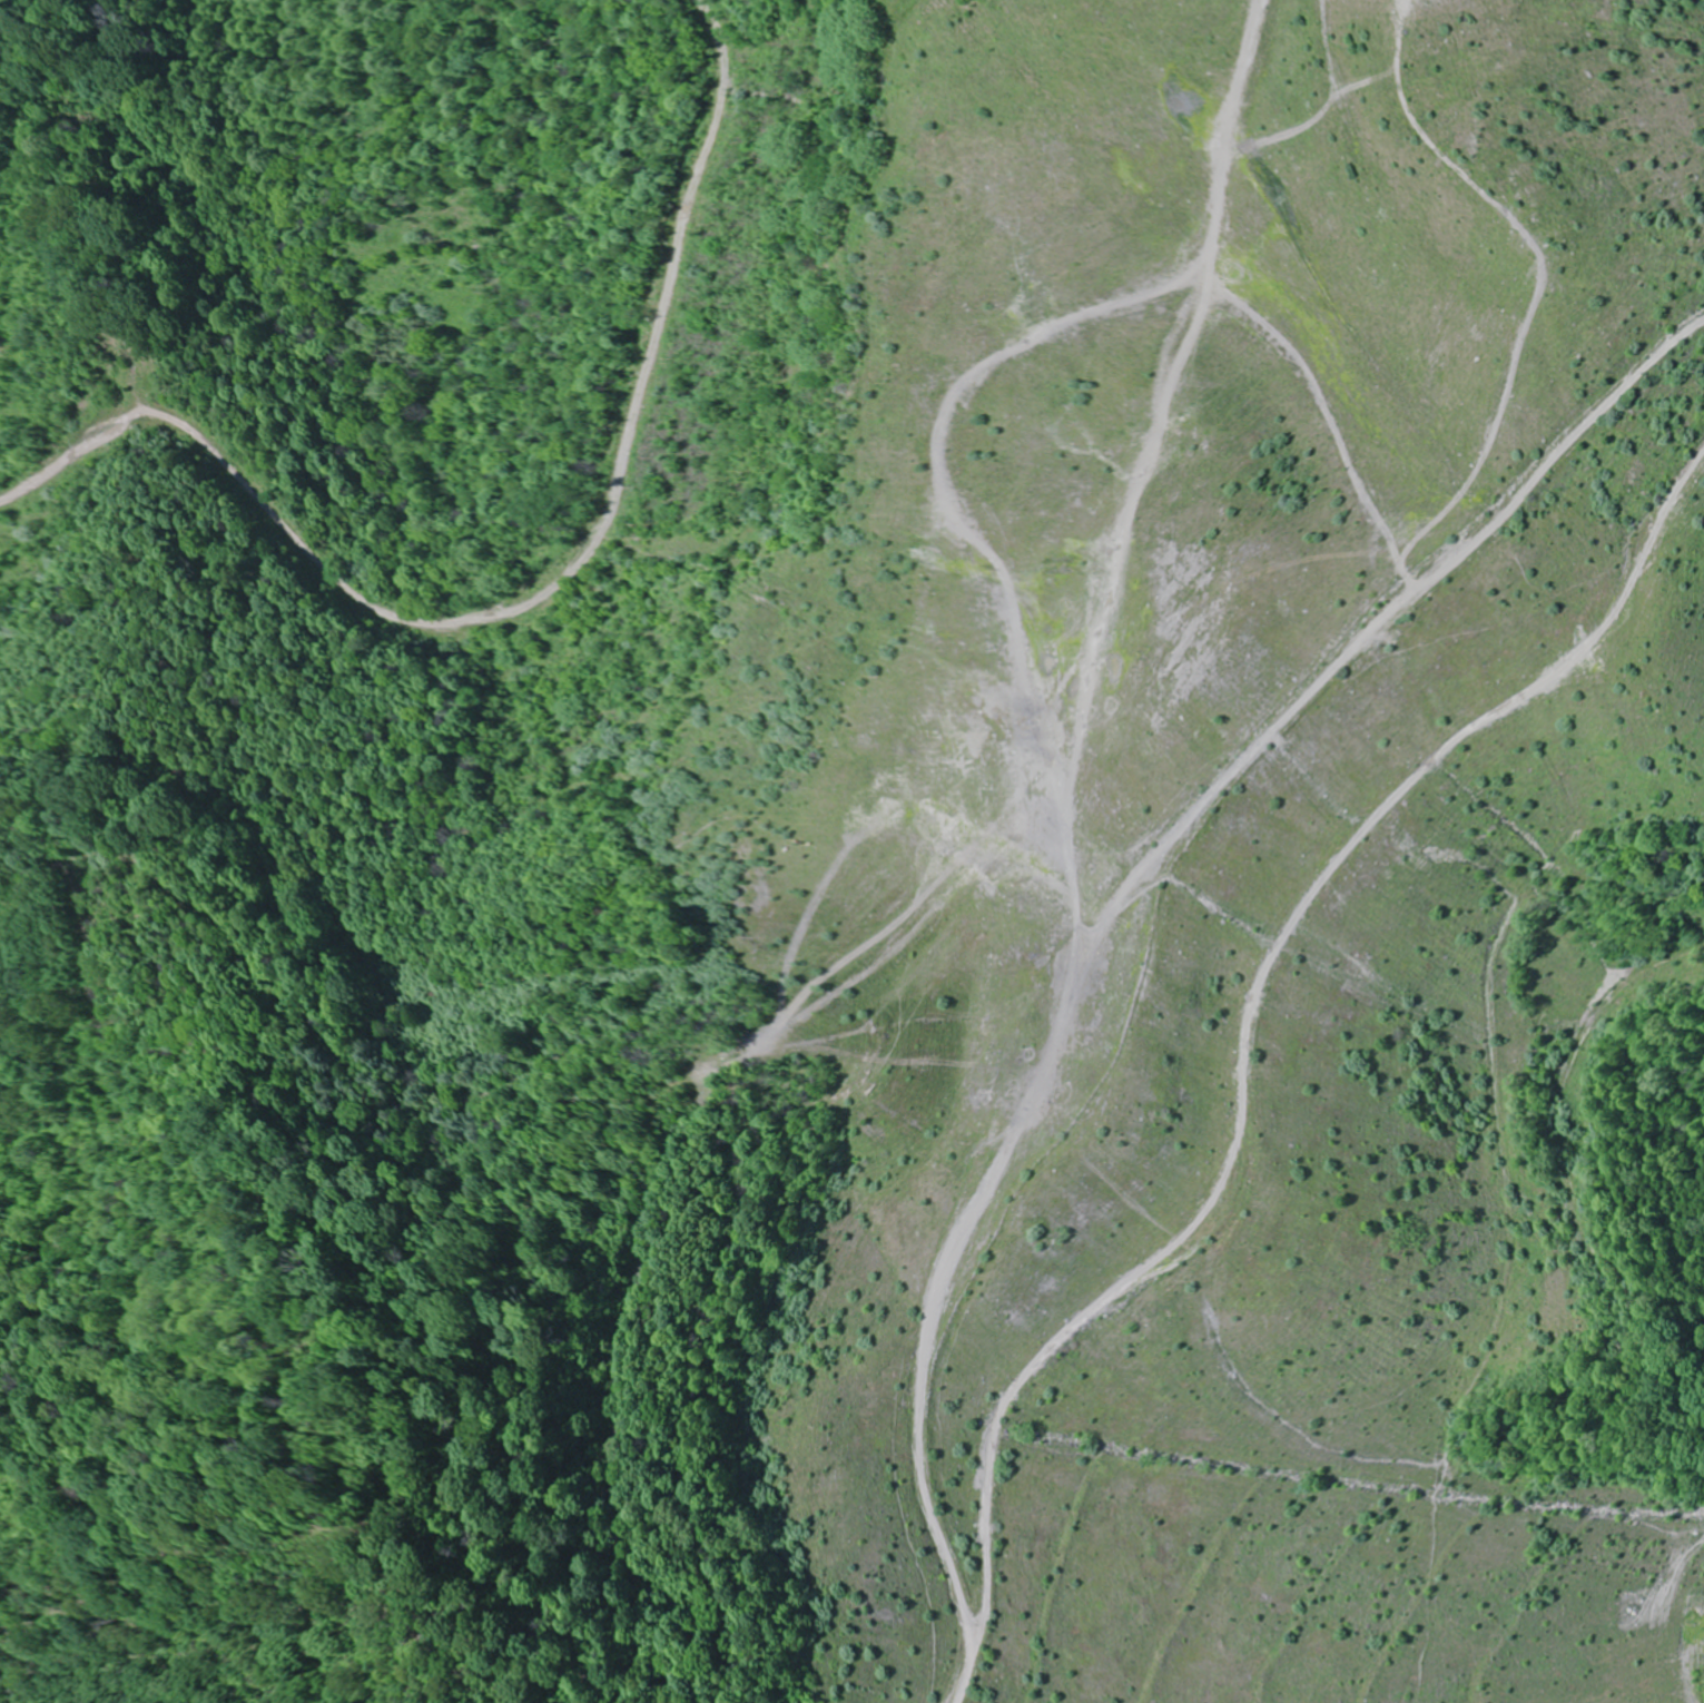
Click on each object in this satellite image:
road: (1572, 1582)

